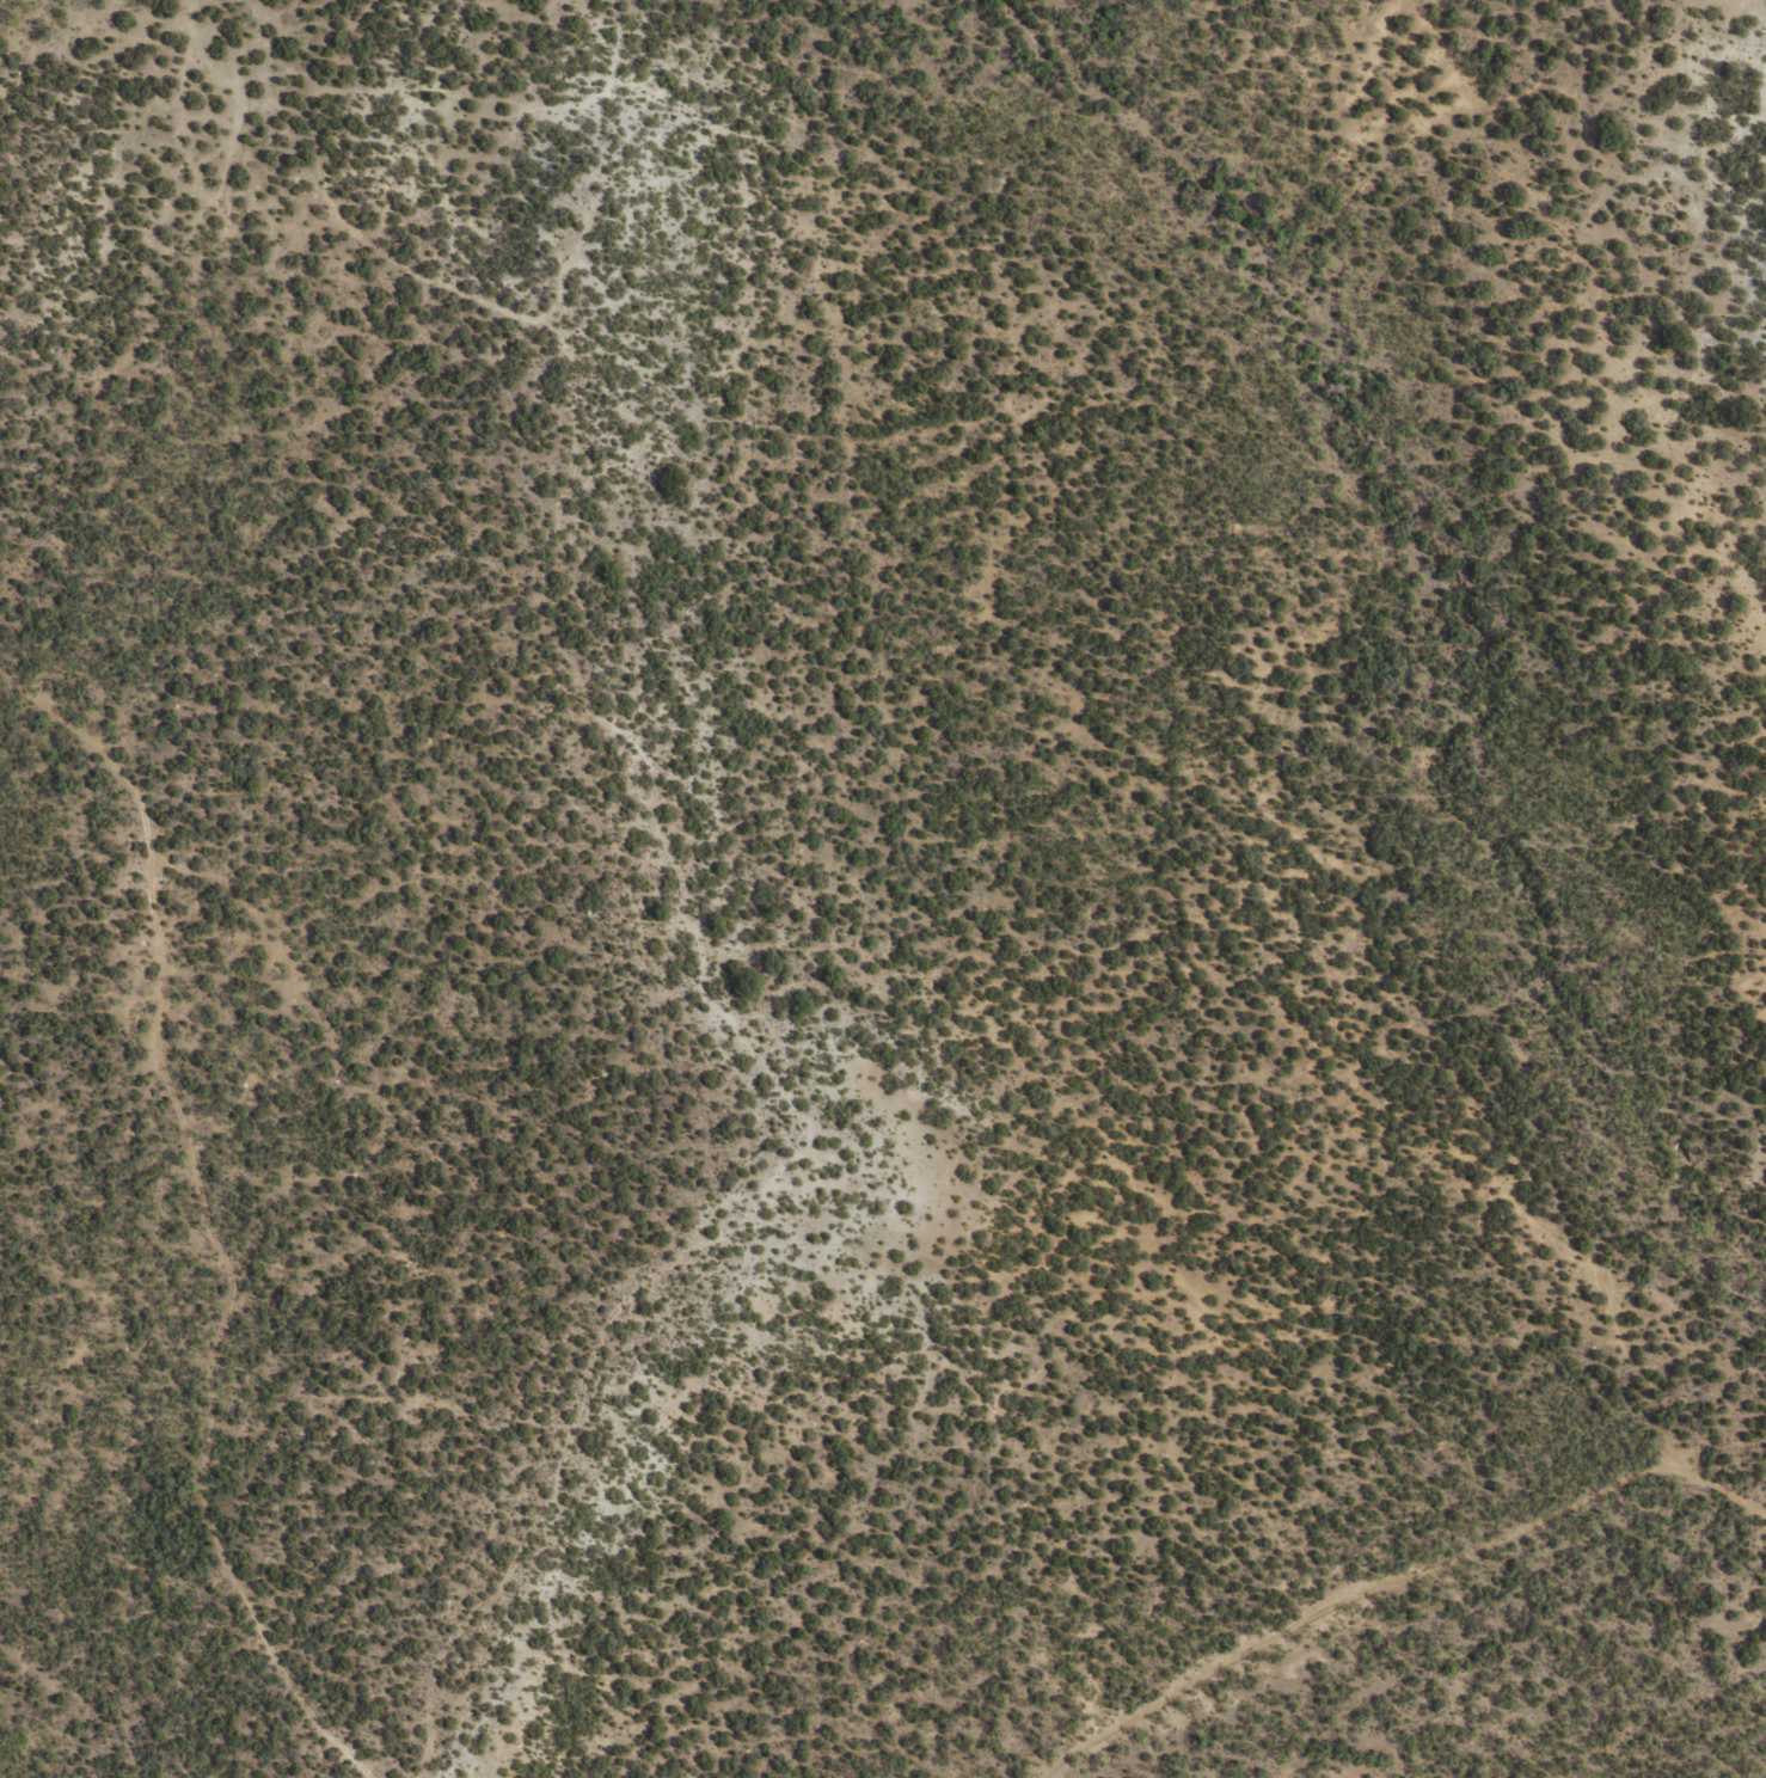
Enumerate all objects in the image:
road: (1437, 1666)

